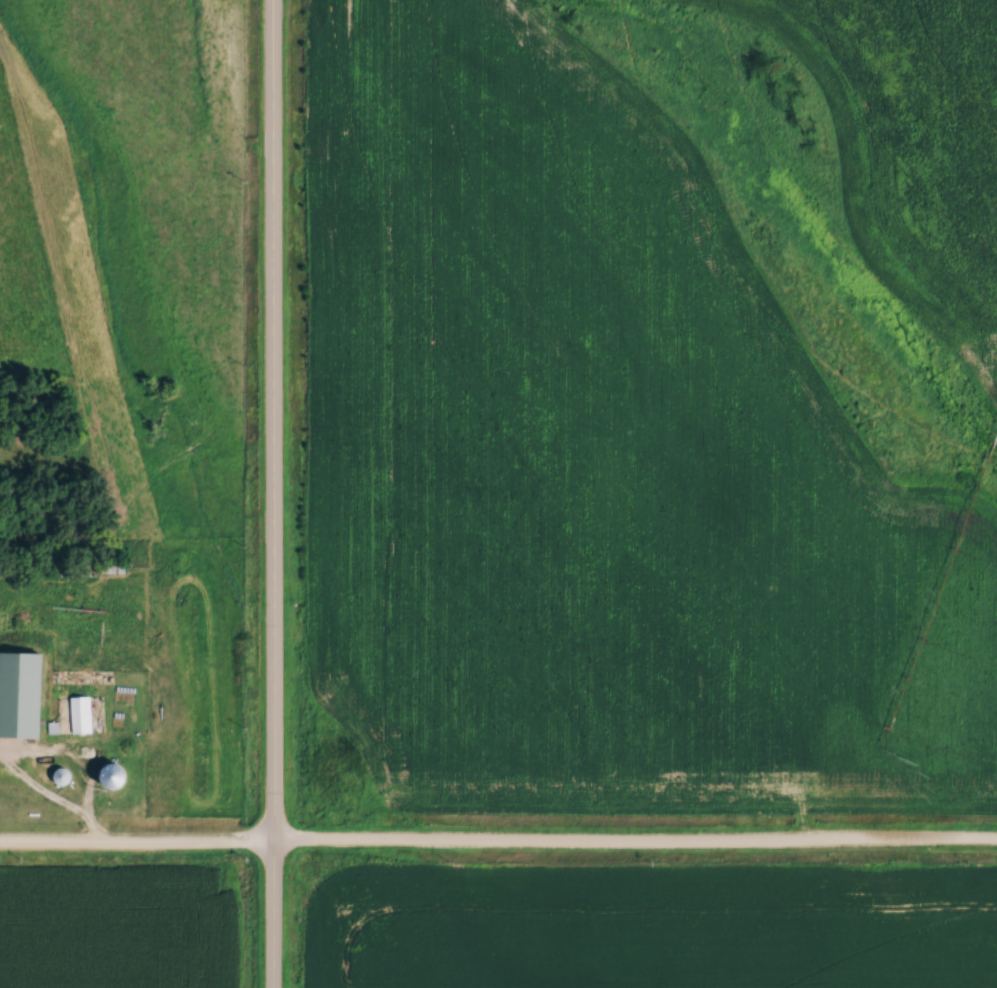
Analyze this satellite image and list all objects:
crop: (597, 459)
road: (274, 493)
building: (23, 693)
building: (83, 714)
road: (498, 844)
crop: (117, 928)

